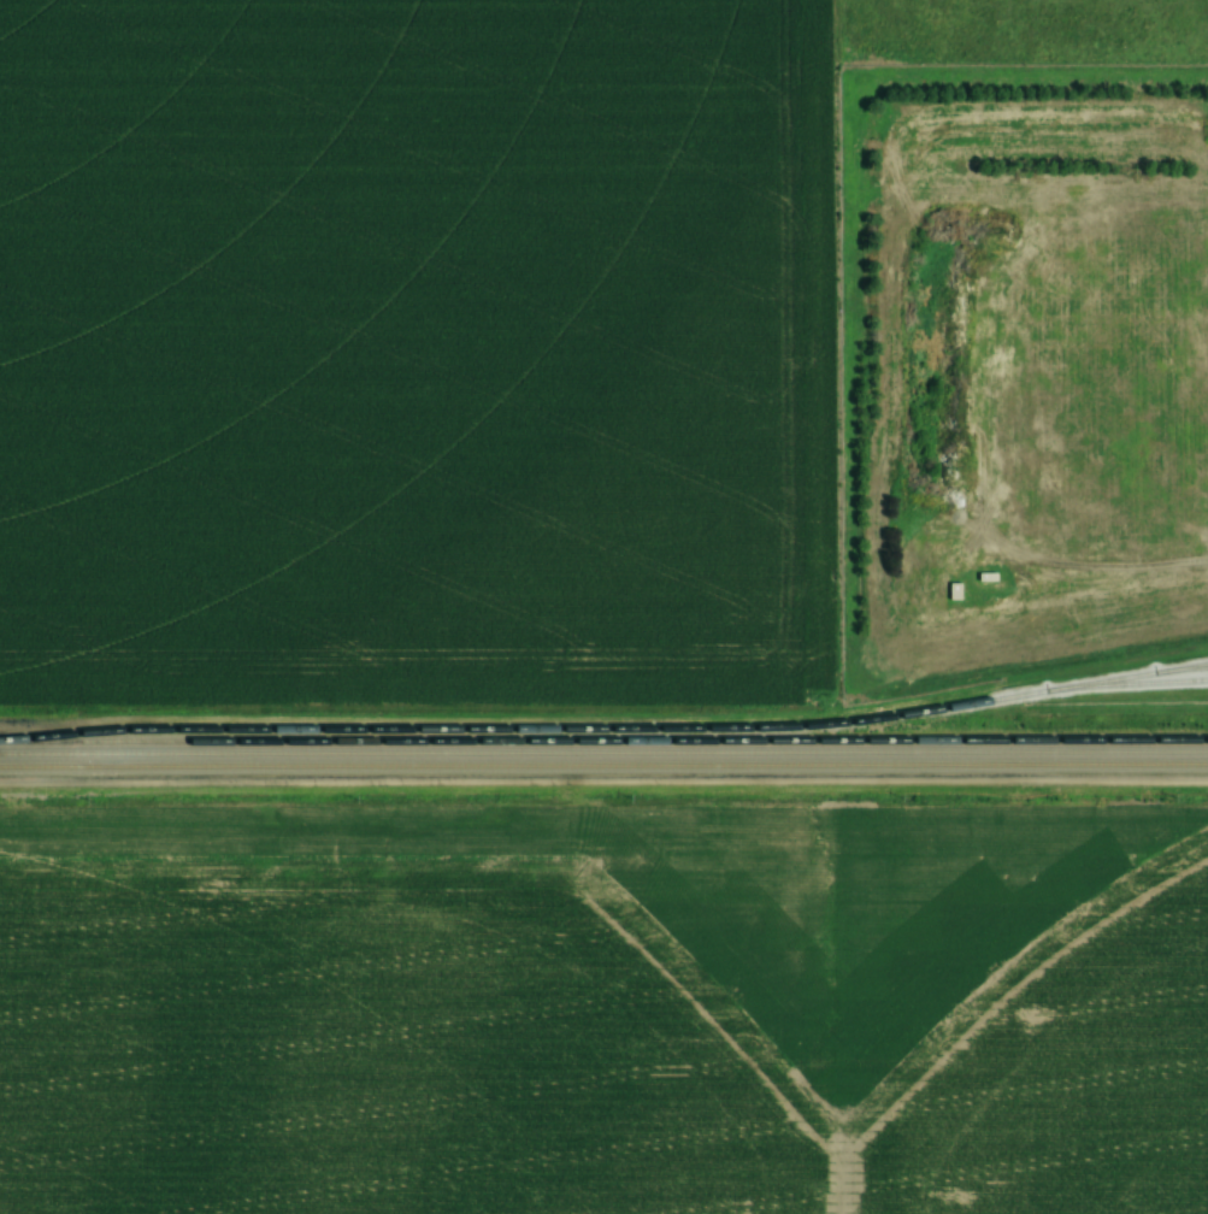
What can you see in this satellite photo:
building: (953, 593)
railway: (1188, 670)
railway: (1133, 684)
railway: (606, 729)
railway: (603, 741)
railway: (603, 754)
railway: (603, 766)

